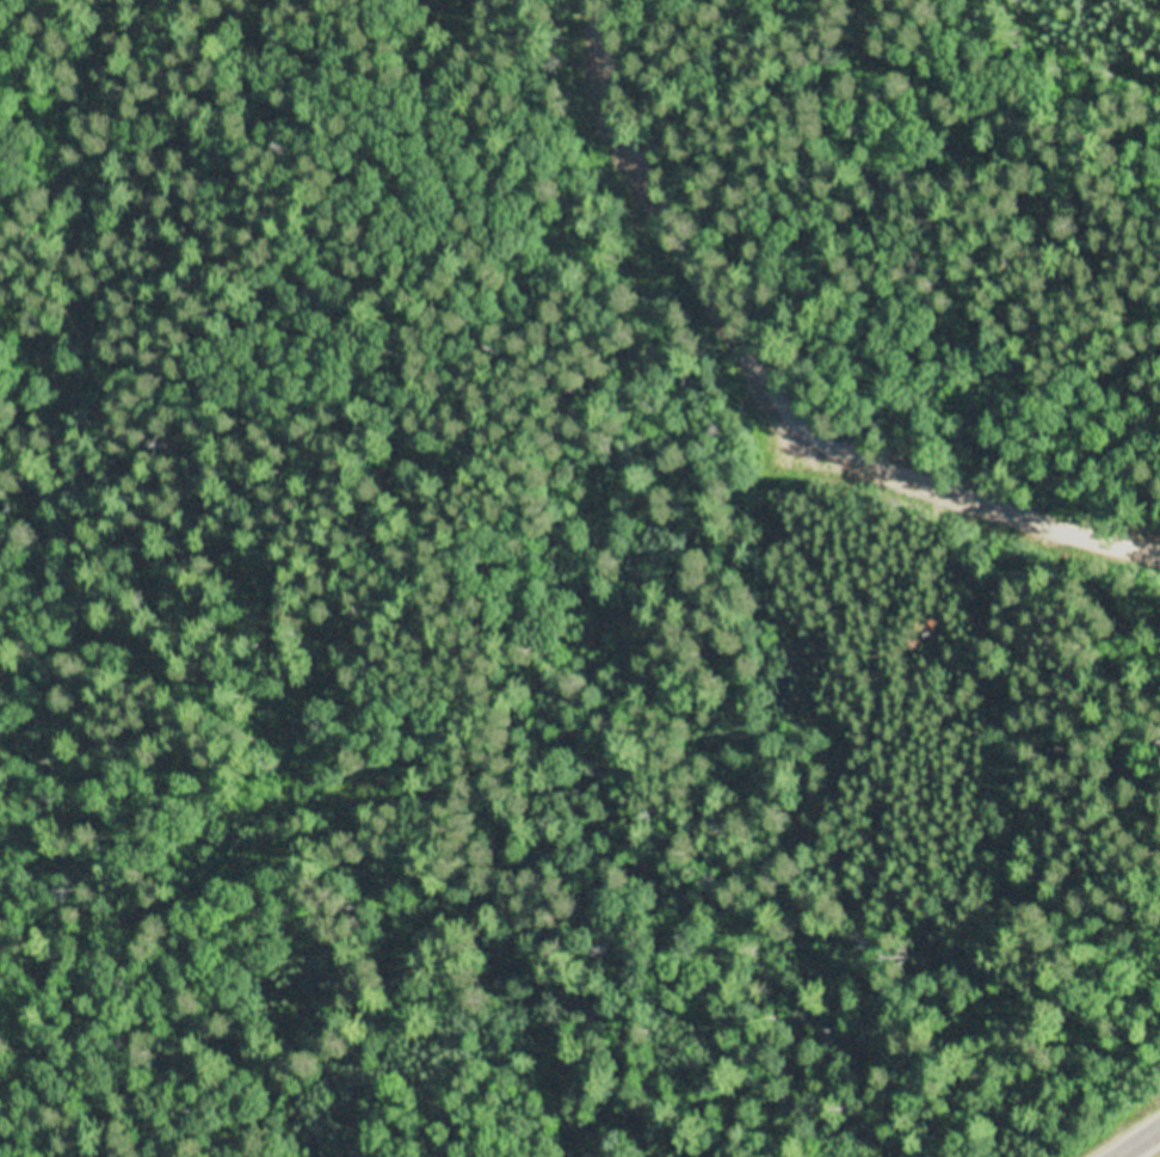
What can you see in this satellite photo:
road: (765, 390)
road: (1136, 1140)

